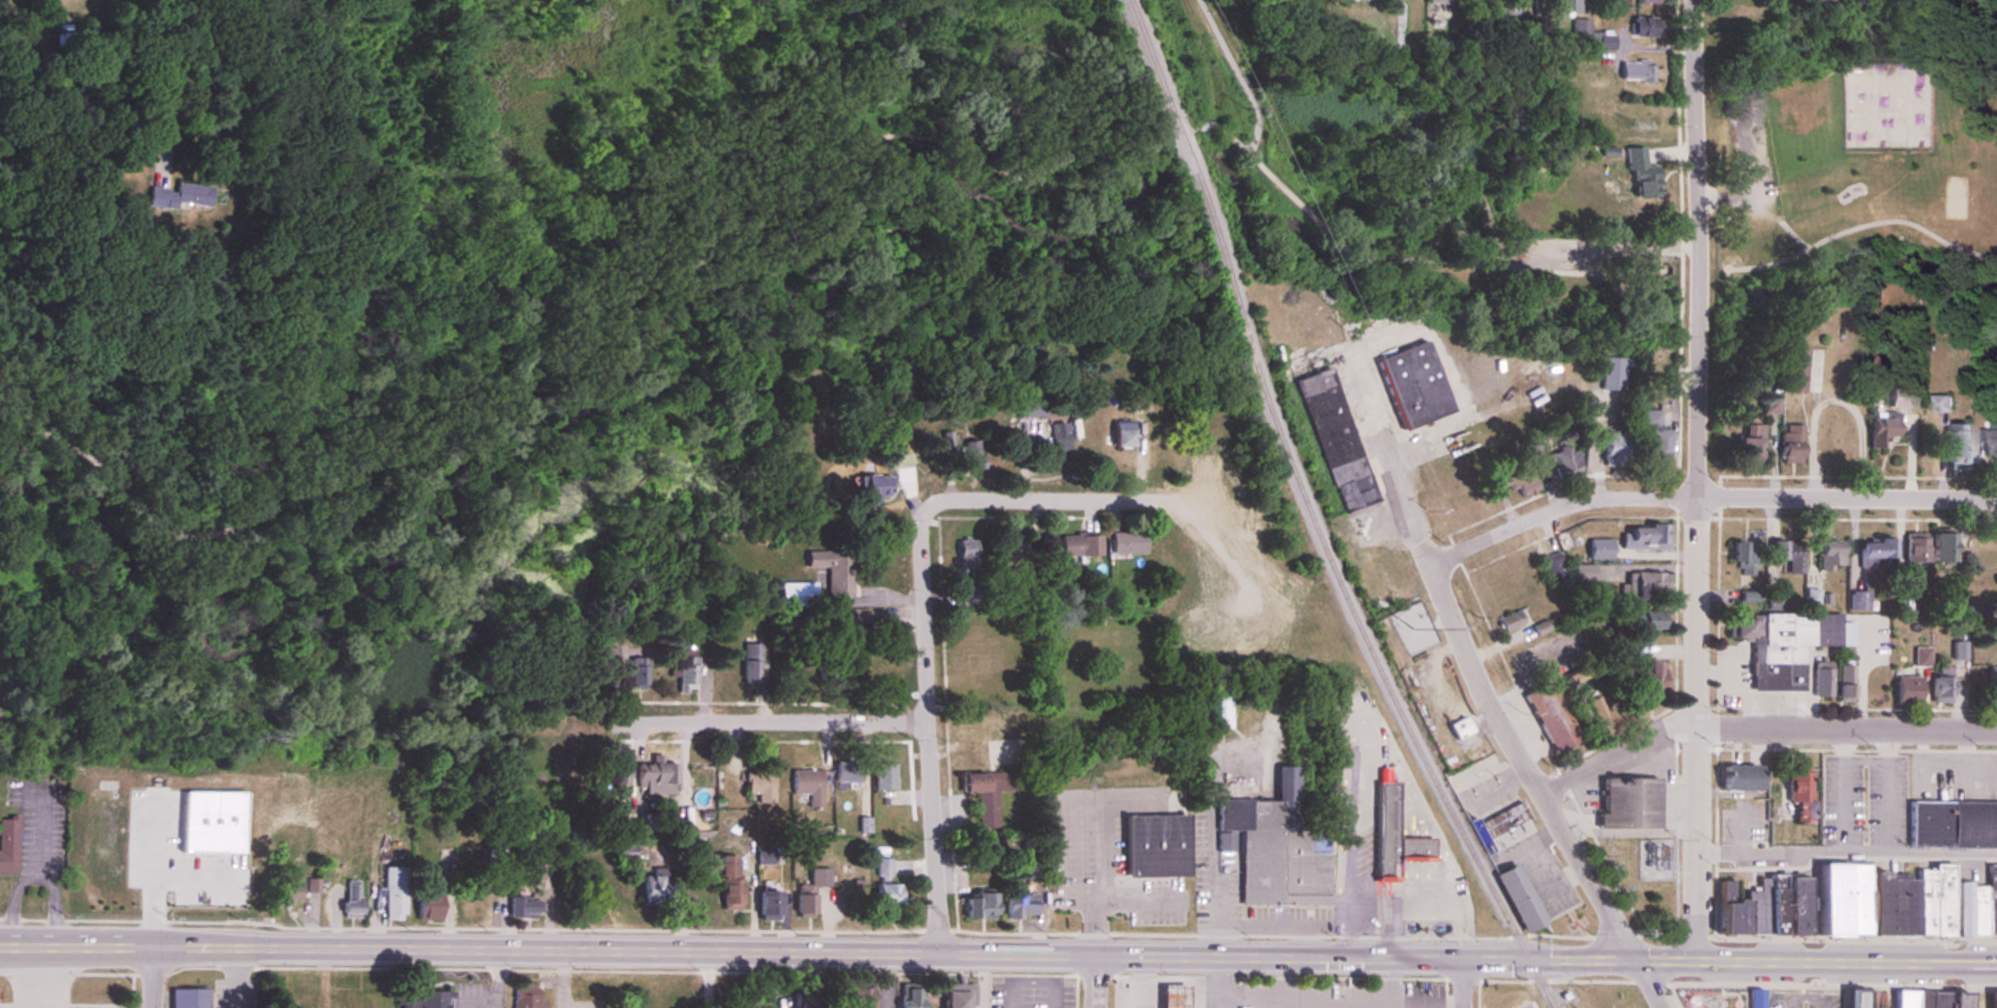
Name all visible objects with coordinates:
building: (1440, 2)
building: (1632, 2)
building: (1564, 6)
building: (1643, 27)
building: (1580, 28)
building: (1601, 41)
building: (1634, 71)
road: (185, 76)
road: (1219, 125)
park: (1845, 154)
building: (1638, 175)
building: (178, 196)
road: (1860, 227)
road: (1352, 254)
road: (1645, 254)
building: (210, 282)
road: (568, 351)
building: (1792, 370)
building: (1411, 386)
building: (1900, 398)
building: (1942, 404)
building: (1029, 408)
building: (1884, 429)
building: (1123, 433)
building: (1061, 435)
building: (1654, 438)
building: (1338, 441)
building: (1989, 443)
building: (1747, 444)
building: (1790, 444)
building: (1957, 447)
building: (1612, 448)
building: (969, 457)
building: (1563, 463)
road: (1696, 481)
building: (1514, 483)
building: (876, 488)
road: (1048, 499)
road: (1705, 499)
railway: (1312, 516)
building: (1645, 538)
building: (1129, 543)
building: (1081, 546)
building: (1599, 550)
building: (1942, 550)
building: (1022, 552)
building: (1915, 552)
building: (1877, 554)
building: (1788, 555)
building: (1828, 555)
building: (967, 556)
building: (1742, 557)
building: (833, 572)
building: (1584, 574)
building: (1645, 585)
building: (795, 595)
building: (968, 595)
building: (1859, 600)
building: (1514, 620)
building: (1651, 620)
building: (977, 623)
building: (854, 634)
building: (1781, 645)
building: (1632, 655)
building: (1921, 657)
building: (750, 663)
building: (995, 663)
building: (829, 670)
building: (686, 671)
building: (638, 674)
building: (1577, 677)
building: (1822, 679)
building: (1992, 679)
building: (1649, 680)
building: (1844, 683)
building: (1940, 687)
building: (1906, 690)
road: (1493, 705)
building: (1218, 711)
building: (1551, 717)
building: (1604, 717)
road: (775, 721)
road: (930, 727)
road: (1762, 727)
building: (1460, 728)
road: (1965, 753)
building: (848, 773)
building: (656, 774)
building: (885, 777)
building: (1738, 778)
road: (1937, 778)
building: (619, 781)
building: (761, 787)
building: (809, 787)
road: (1843, 789)
road: (1888, 789)
building: (1799, 792)
building: (987, 794)
building: (1628, 804)
building: (621, 823)
building: (1504, 824)
building: (1952, 825)
road: (40, 832)
building: (1392, 835)
building: (523, 843)
building: (8, 845)
building: (1153, 847)
building: (496, 849)
building: (1274, 850)
road: (1848, 850)
building: (625, 852)
building: (884, 869)
building: (728, 883)
building: (655, 887)
building: (285, 892)
building: (810, 893)
building: (392, 894)
building: (887, 896)
building: (1991, 897)
building: (1519, 898)
building: (351, 899)
building: (1934, 900)
building: (1877, 902)
road: (12, 903)
building: (427, 906)
building: (767, 906)
building: (977, 906)
building: (1901, 906)
road: (55, 907)
building: (1018, 907)
building: (1963, 907)
building: (524, 908)
building: (1763, 908)
building: (1978, 909)
road: (103, 947)
road: (1102, 957)
road: (150, 978)
road: (498, 979)
road: (883, 981)
road: (982, 982)
road: (1093, 982)
road: (1274, 982)
road: (1391, 982)
road: (1463, 982)
road: (1647, 985)
building: (526, 996)
building: (957, 996)
building: (1171, 996)
park: (1706, 997)
building: (1853, 997)
building: (188, 999)
building: (858, 999)
building: (908, 999)
building: (1754, 999)
building: (1904, 999)
building: (1920, 999)
building: (1937, 999)
building: (1958, 999)
building: (1980, 999)
building: (1994, 999)
building: (423, 1000)
road: (475, 1000)
road: (1333, 1000)
road: (1416, 1000)
road: (1452, 1001)
road: (1440, 1004)

